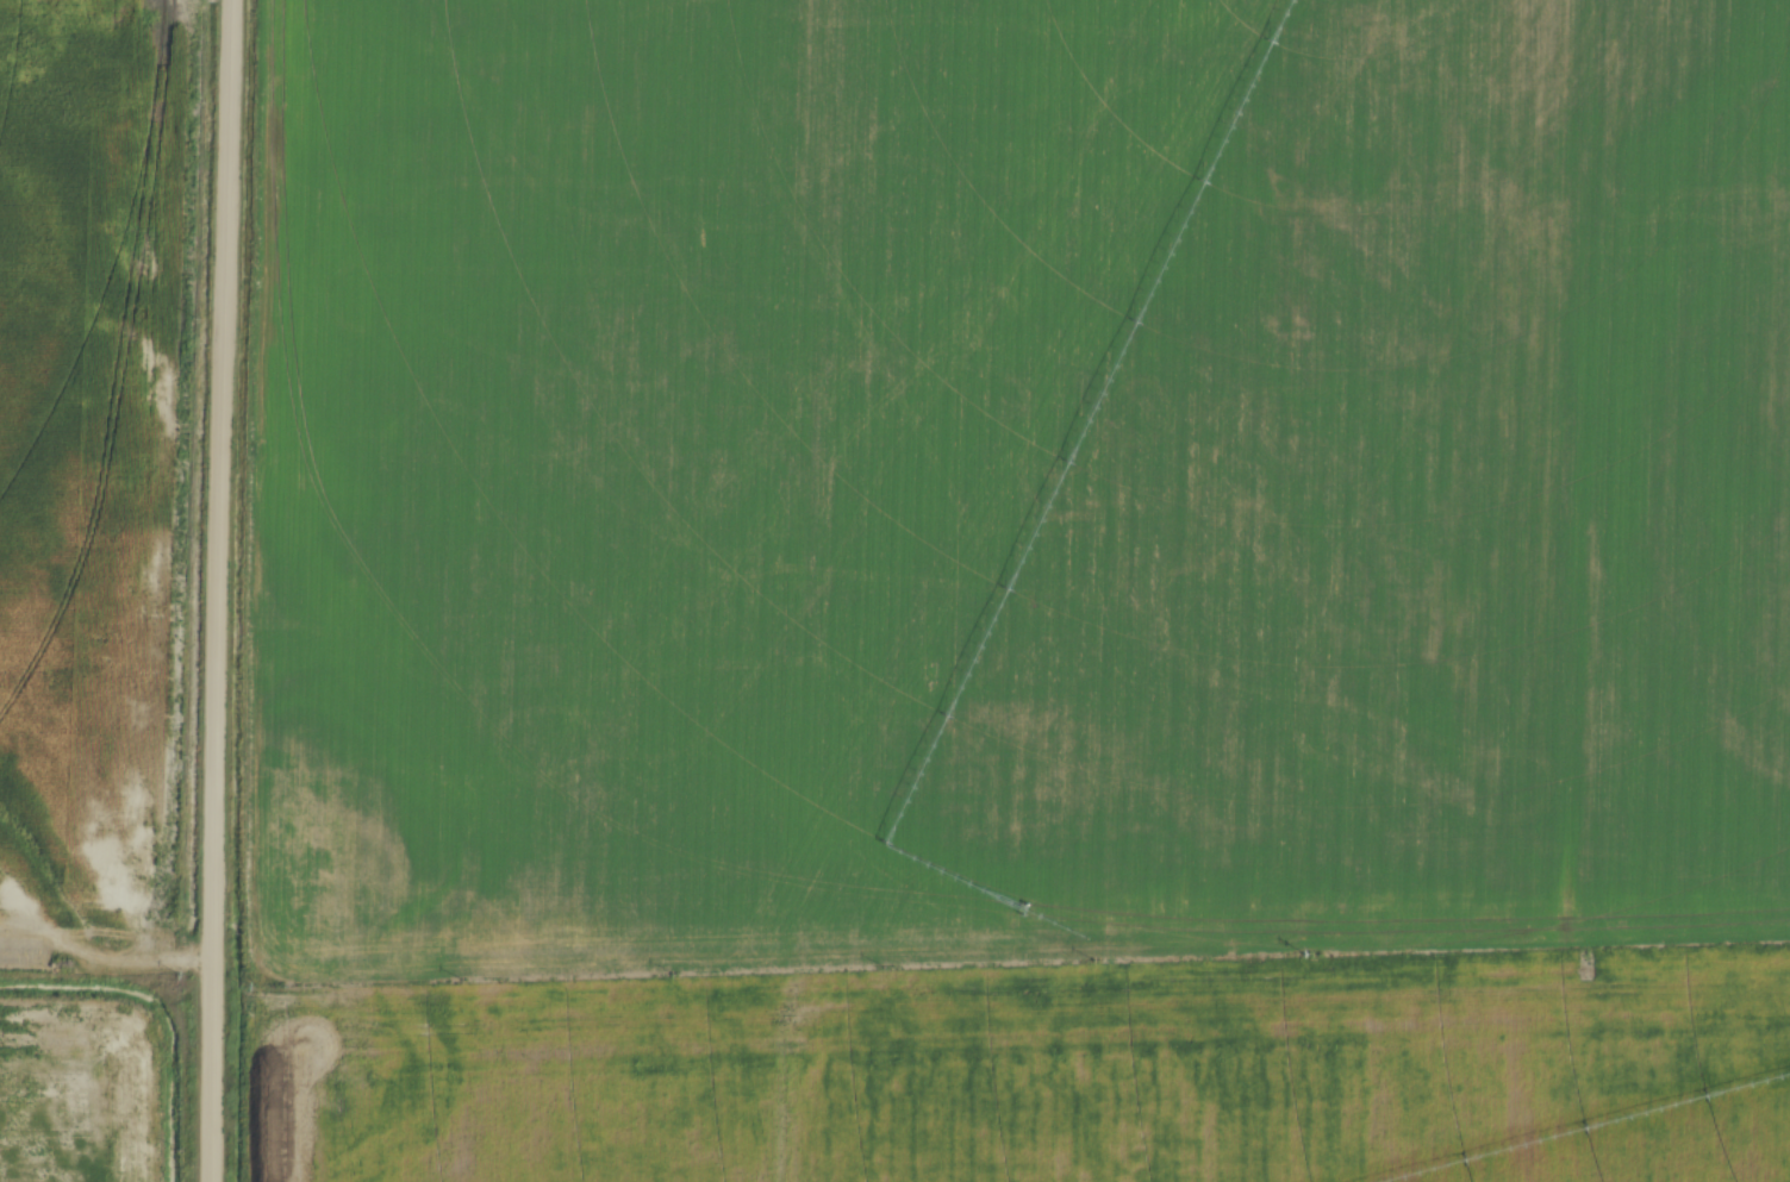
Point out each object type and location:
road: (216, 590)

